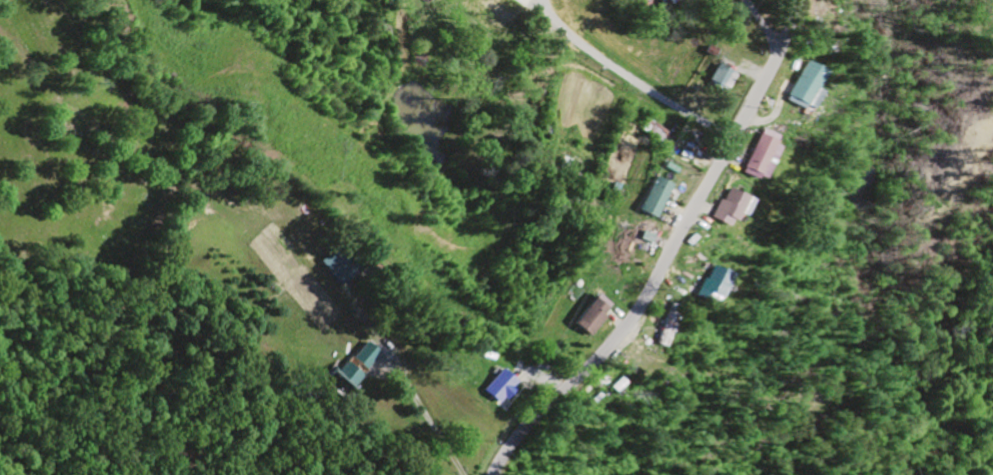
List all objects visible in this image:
building: (806, 85)
building: (656, 197)
building: (731, 207)
road: (665, 253)
building: (343, 267)
building: (714, 280)
building: (596, 315)
road: (252, 329)
building: (373, 356)
building: (355, 373)
building: (507, 388)

